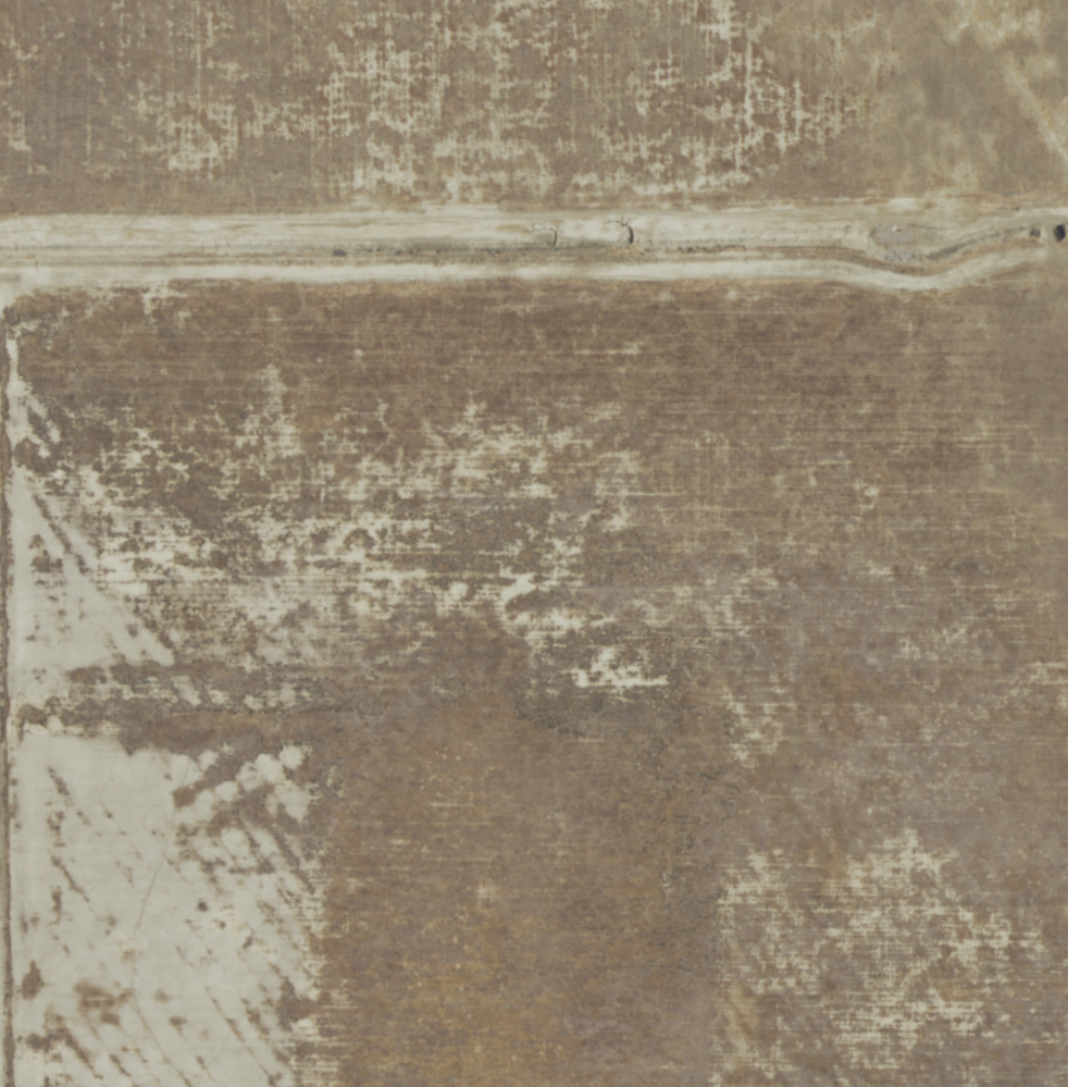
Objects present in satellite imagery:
road: (1017, 75)

